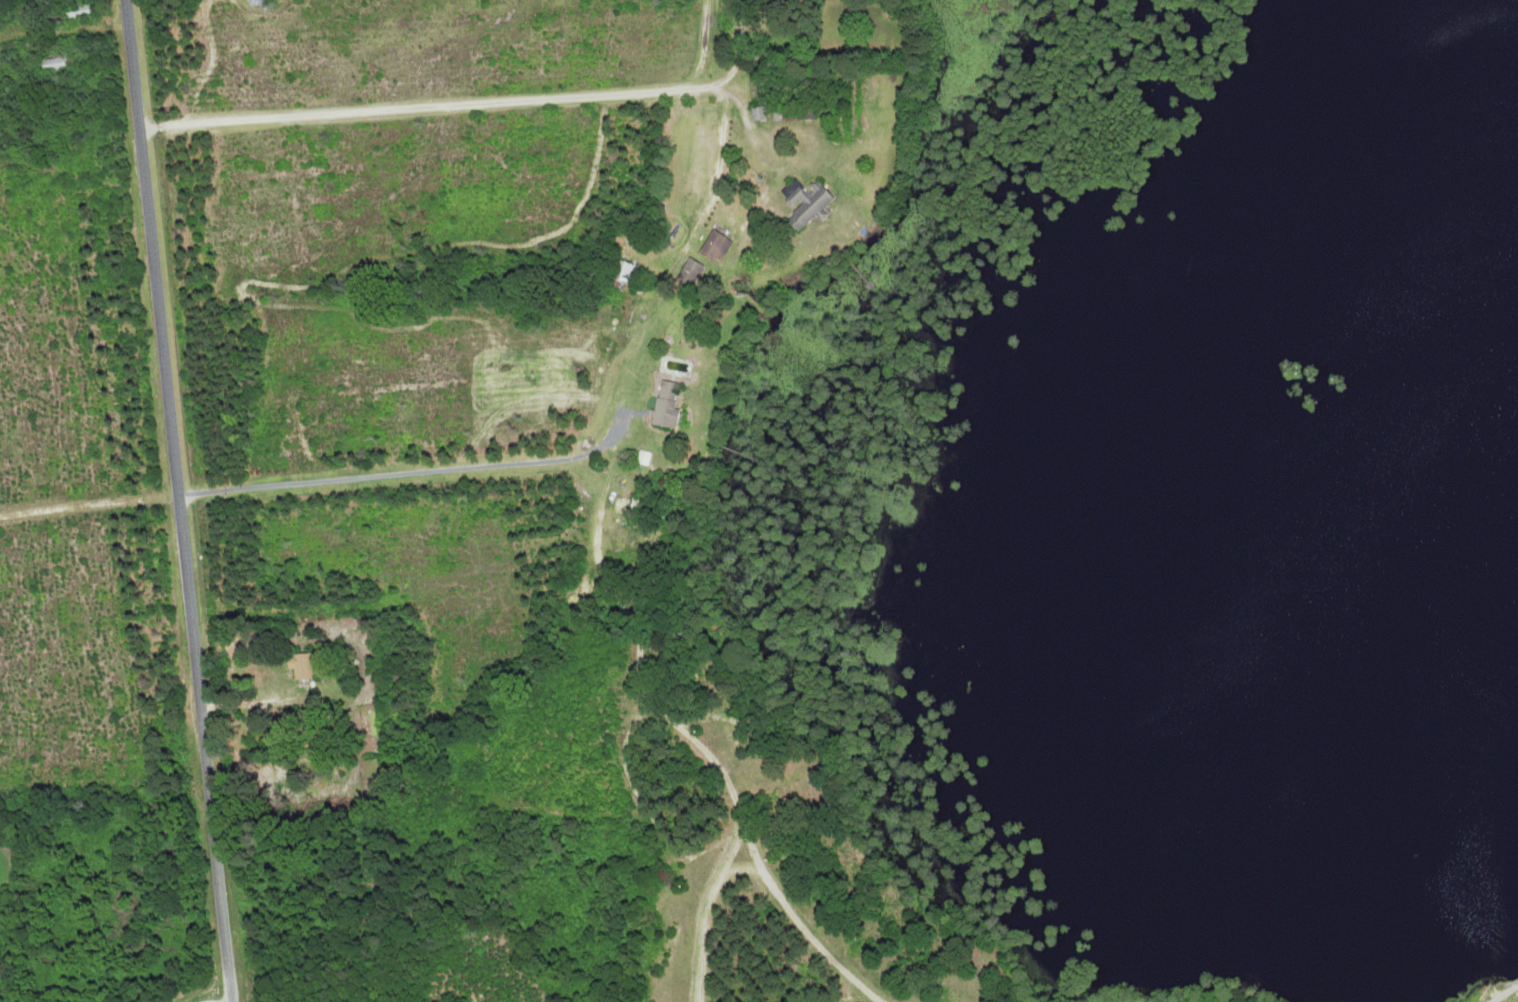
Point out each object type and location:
building: (258, 2)
building: (76, 12)
building: (51, 64)
road: (424, 108)
building: (803, 202)
building: (713, 247)
building: (625, 272)
building: (689, 274)
building: (665, 404)
road: (178, 500)
building: (301, 666)
road: (762, 869)
road: (731, 872)
road: (759, 877)
road: (710, 906)
road: (1504, 994)

